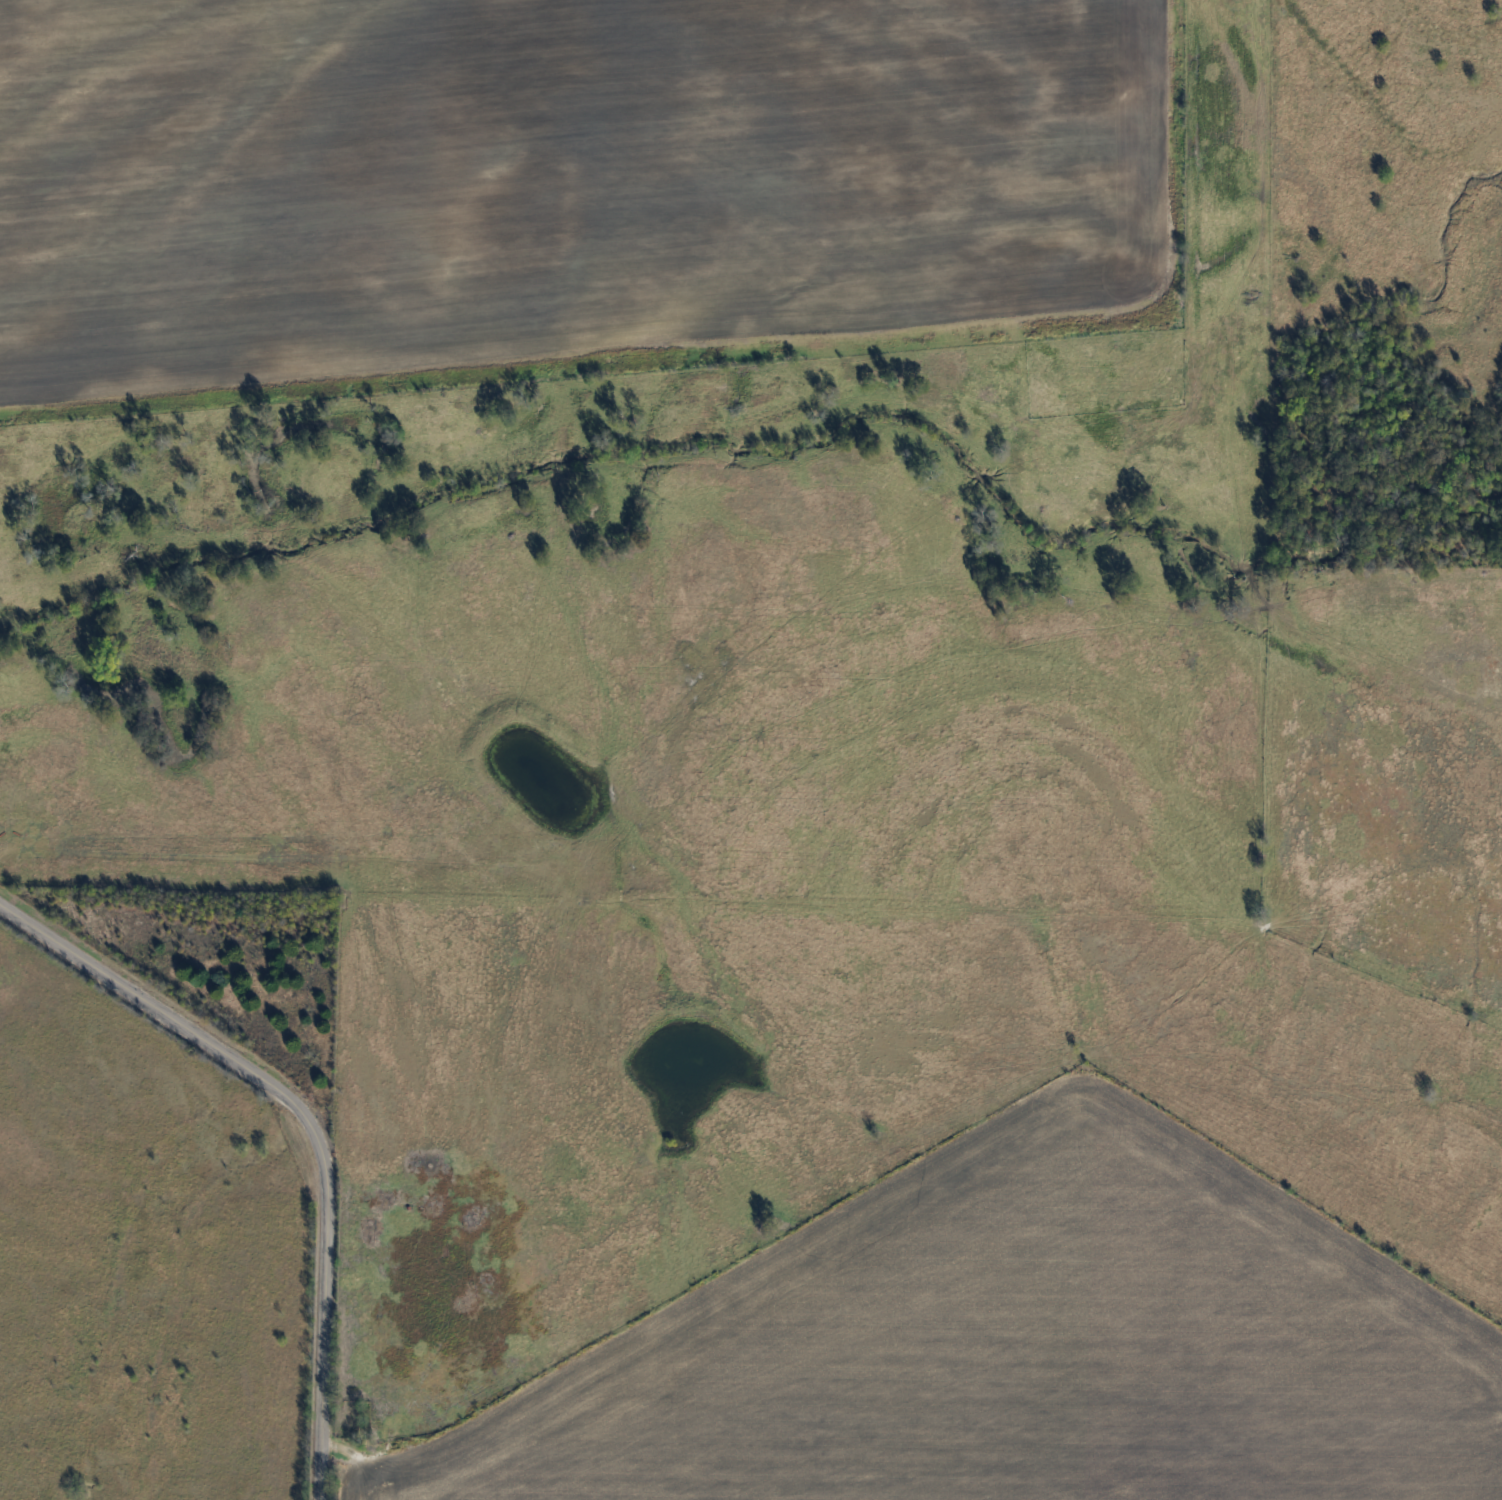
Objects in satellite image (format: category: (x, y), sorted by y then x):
road: (312, 1124)

